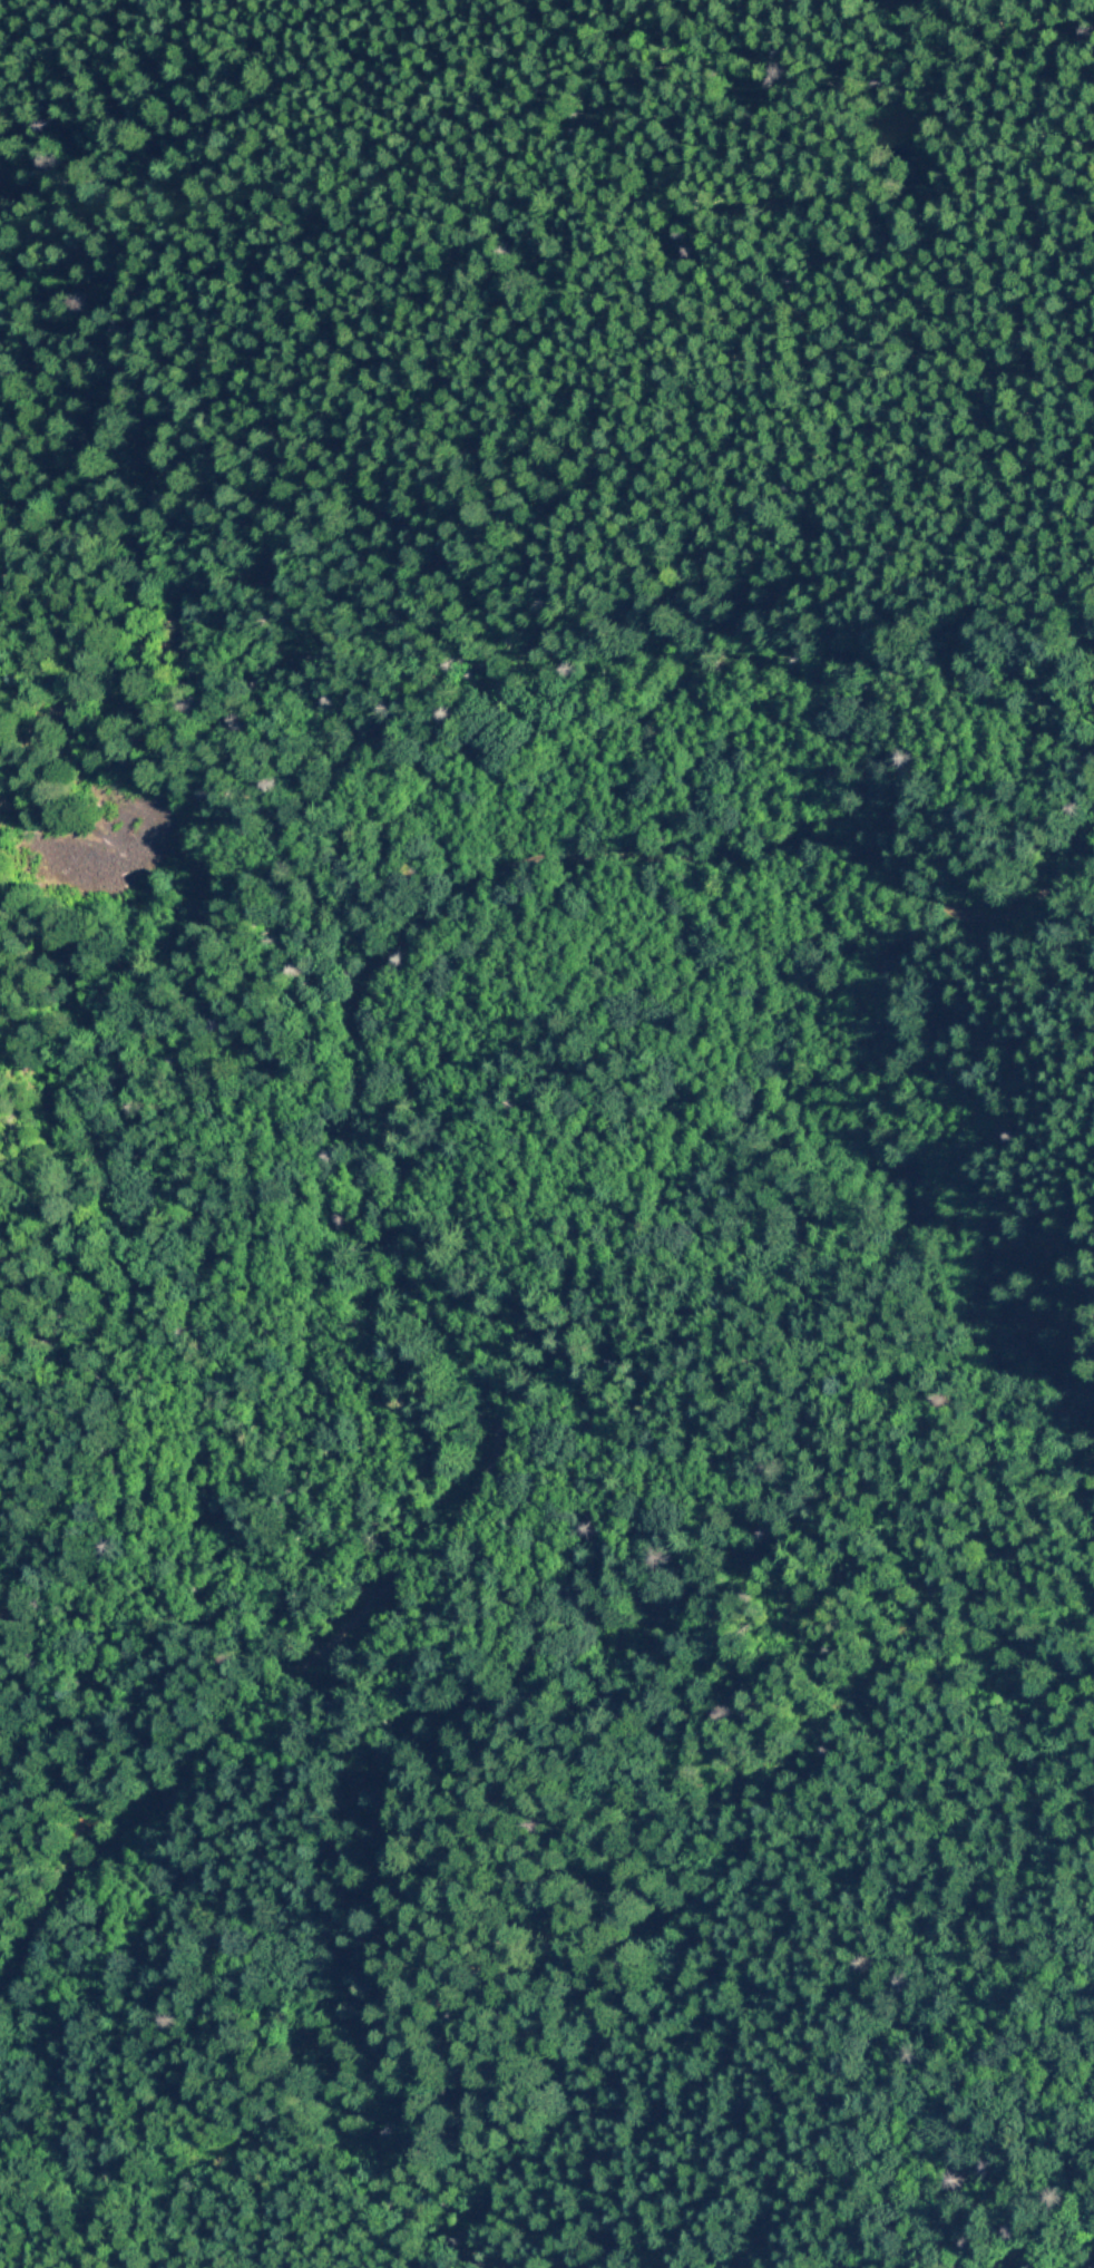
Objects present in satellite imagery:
road: (325, 1141)

